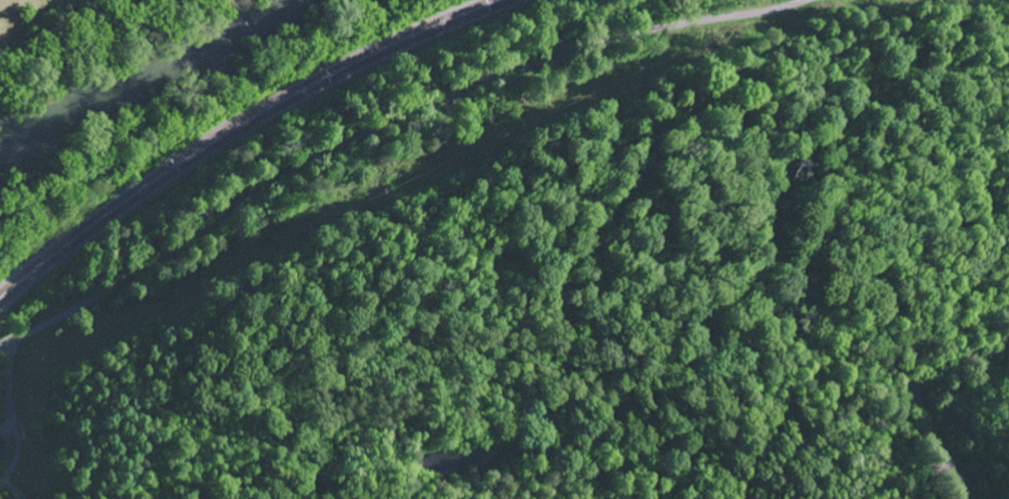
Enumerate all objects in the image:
river: (136, 68)
road: (378, 111)
railway: (235, 126)
railway: (252, 137)

